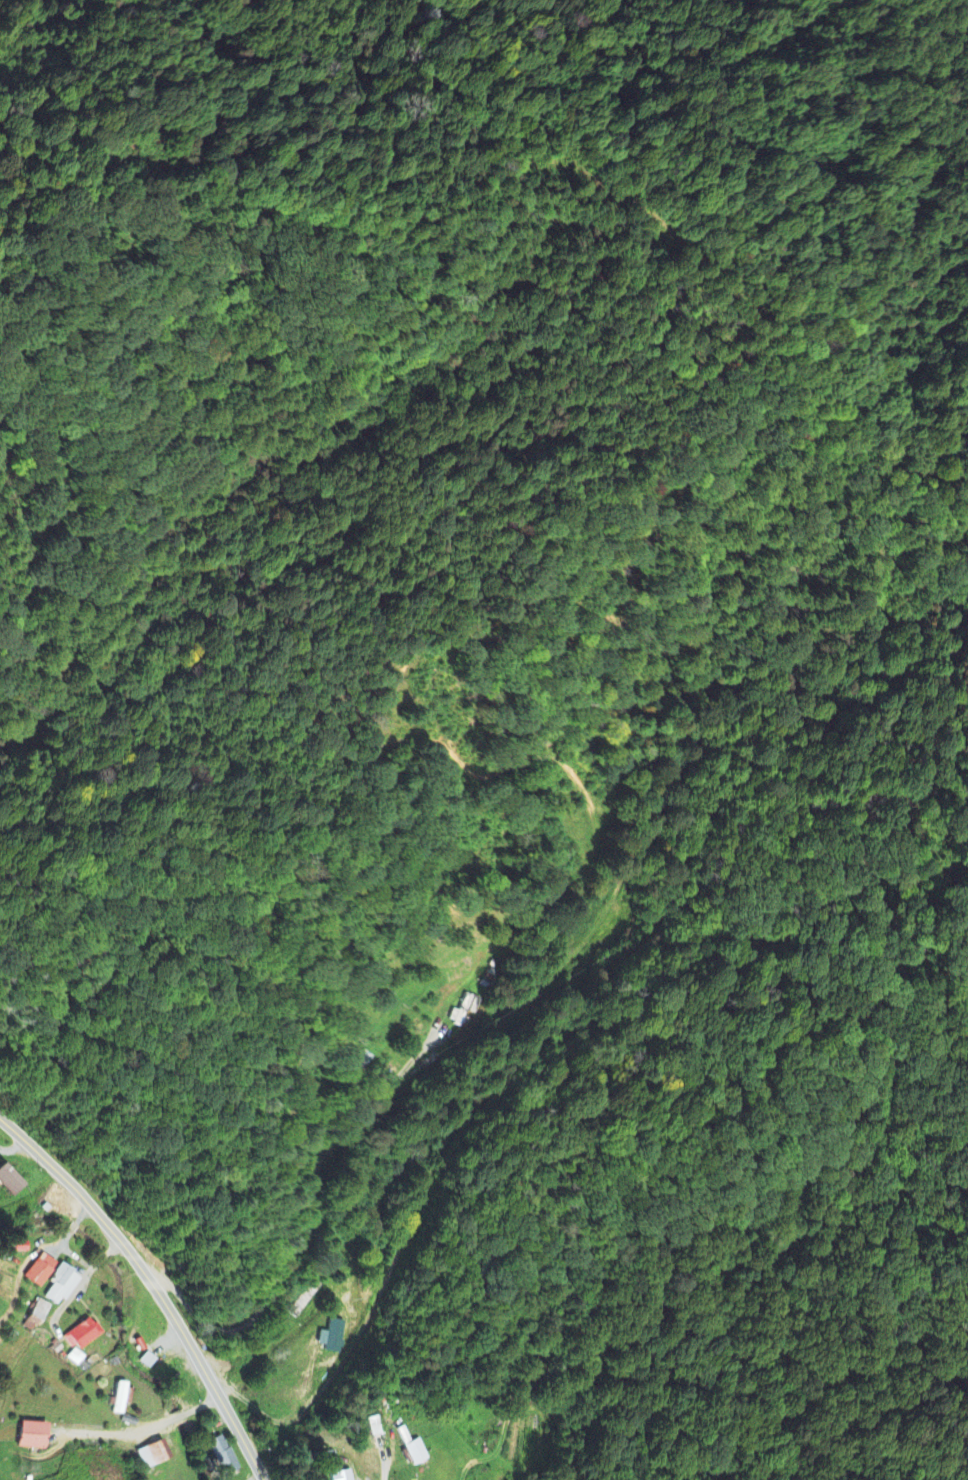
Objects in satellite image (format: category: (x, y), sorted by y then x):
road: (306, 1226)
road: (411, 1227)
road: (156, 1280)

